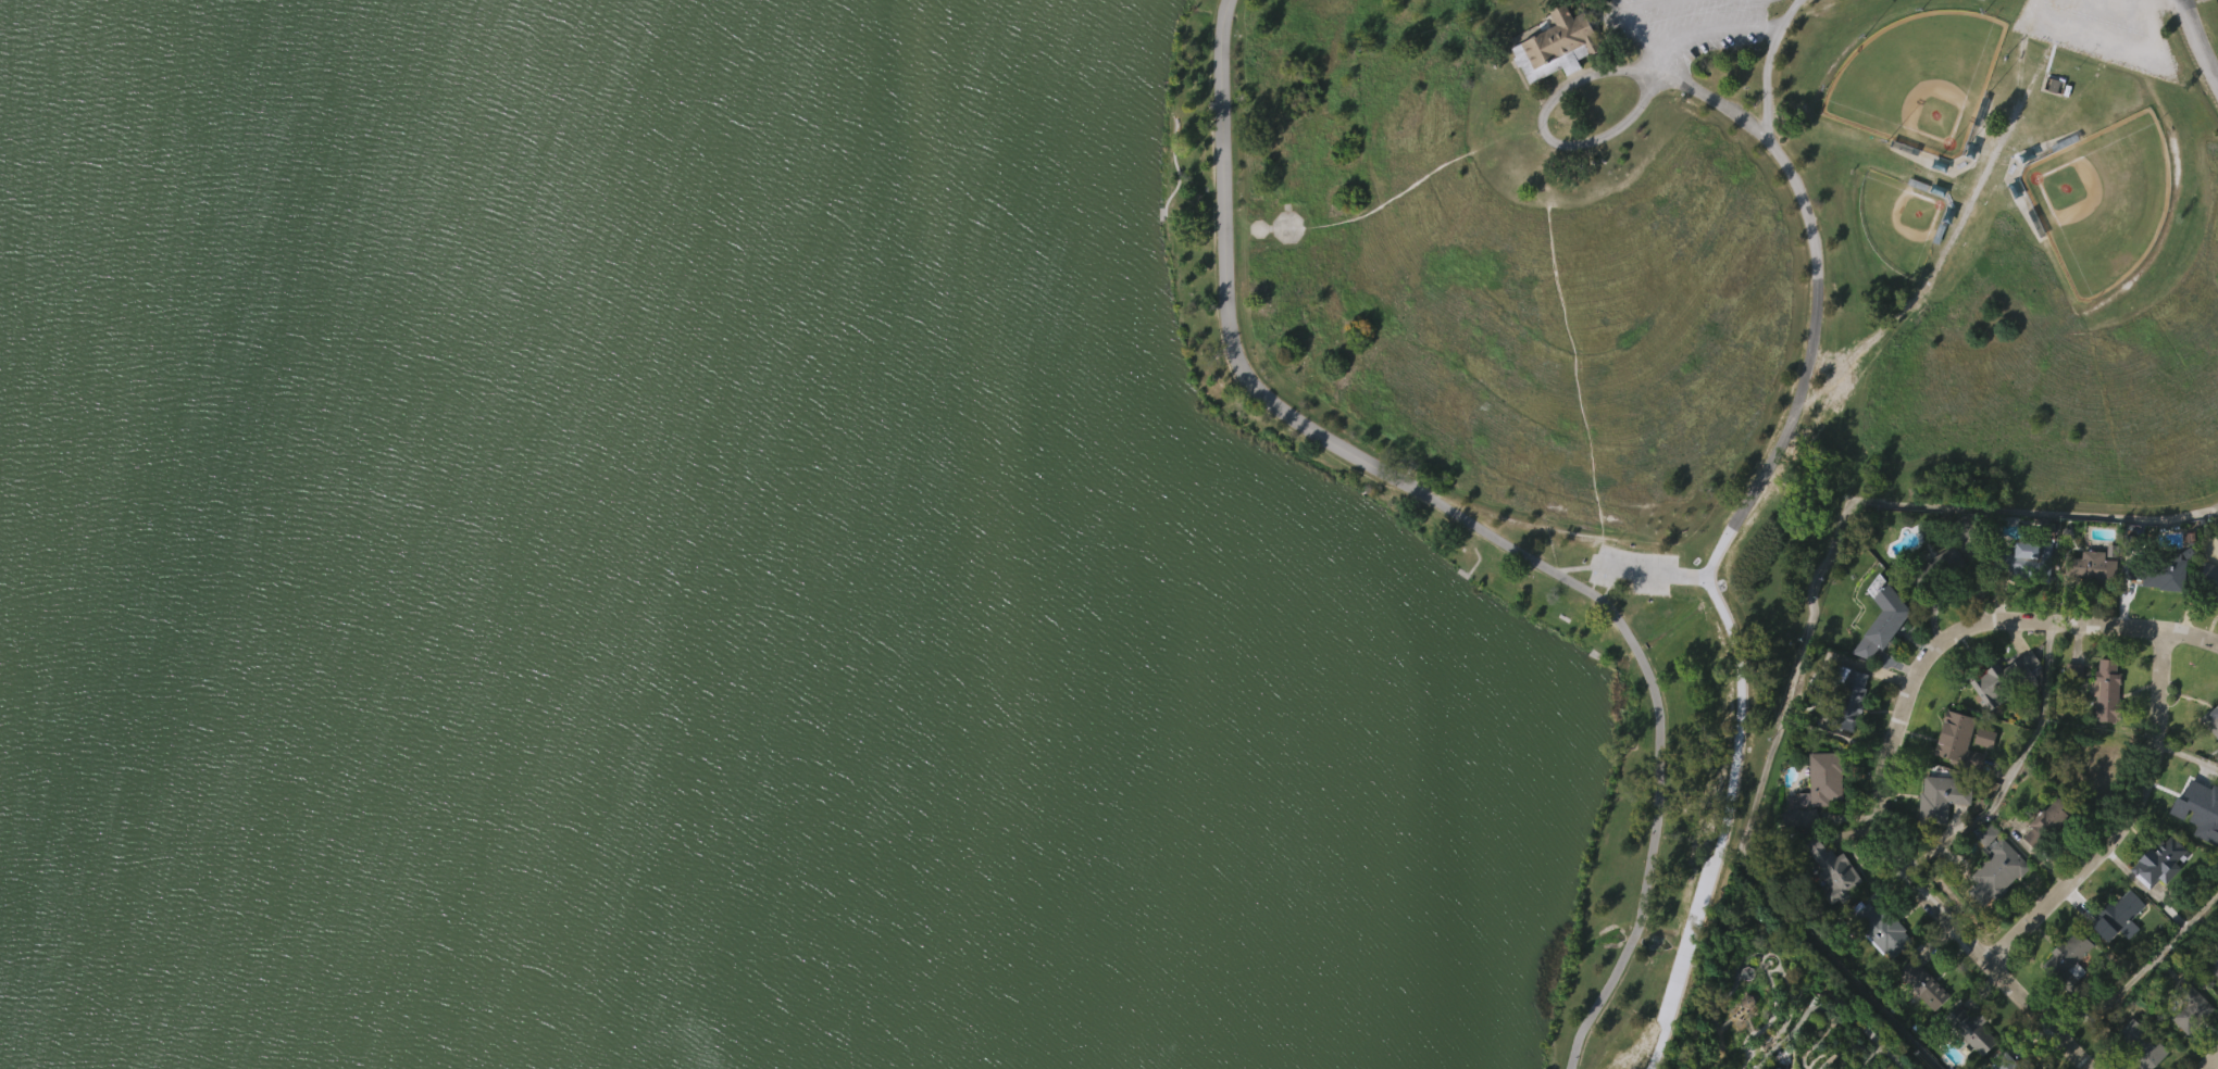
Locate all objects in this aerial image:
road: (2065, 23)
parking lot: (1687, 24)
road: (1749, 26)
parking lot: (2101, 29)
road: (1707, 35)
road: (1649, 38)
building: (1556, 45)
road: (2194, 47)
park: (1917, 80)
building: (1554, 83)
road: (1545, 104)
road: (1718, 106)
road: (1426, 173)
park: (2099, 200)
park: (1899, 221)
road: (1817, 248)
road: (1574, 351)
park: (1013, 507)
road: (1473, 521)
building: (1964, 525)
road: (1723, 534)
building: (2023, 561)
road: (1575, 565)
building: (2089, 566)
parking lot: (1632, 568)
building: (1934, 568)
road: (1653, 570)
building: (2155, 570)
building: (2208, 578)
building: (2090, 602)
building: (2155, 611)
building: (2210, 615)
road: (2113, 629)
building: (1881, 656)
building: (2024, 670)
building: (1994, 686)
building: (2104, 690)
building: (1848, 697)
building: (2071, 705)
building: (2003, 713)
building: (2210, 719)
road: (1739, 726)
building: (2104, 726)
building: (1848, 735)
building: (1956, 741)
building: (2214, 755)
building: (1982, 772)
road: (2027, 776)
building: (1956, 777)
building: (1823, 780)
building: (1937, 796)
building: (2196, 806)
building: (1821, 815)
road: (2123, 820)
building: (2044, 821)
building: (1940, 832)
building: (2195, 843)
road: (1896, 848)
building: (1797, 854)
building: (2044, 858)
building: (2157, 859)
building: (1832, 868)
building: (1995, 871)
building: (2157, 897)
building: (1832, 906)
building: (1995, 907)
building: (1814, 911)
building: (2113, 916)
building: (1879, 928)
building: (2117, 951)
road: (1683, 955)
building: (2066, 961)
building: (2214, 963)
building: (1879, 964)
building: (1920, 983)
building: (2067, 986)
park: (1787, 996)
building: (2214, 1002)
building: (2186, 1005)
building: (1920, 1019)
building: (1969, 1029)
building: (2135, 1045)
road: (1655, 1049)
building: (1962, 1056)
road: (2210, 1061)
building: (2002, 1062)

